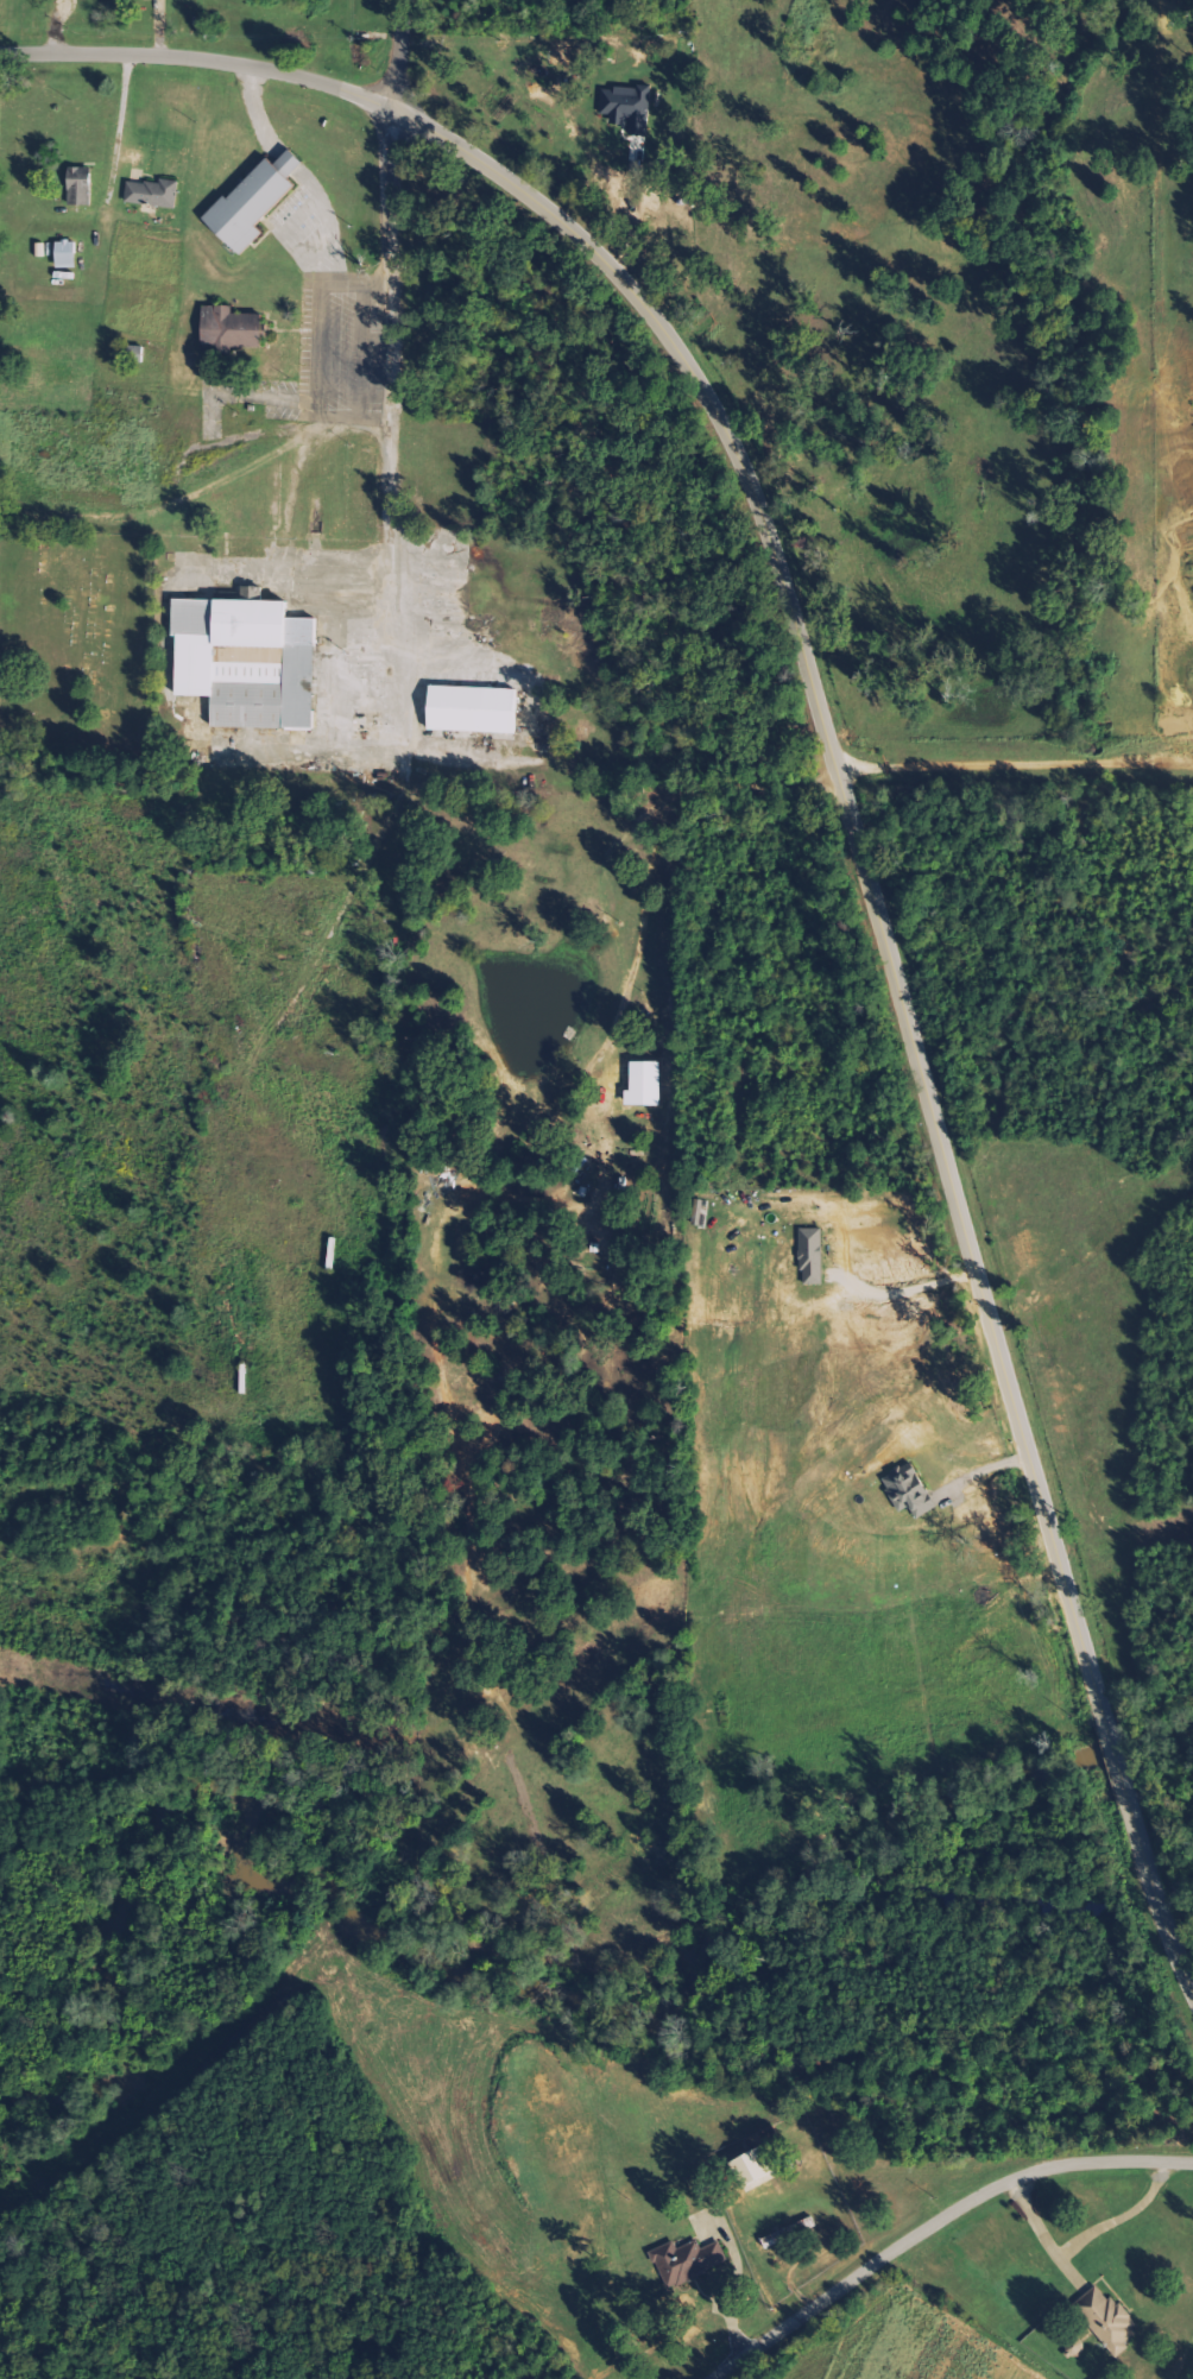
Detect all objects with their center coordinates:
road: (400, 53)
building: (629, 108)
building: (80, 187)
building: (153, 194)
building: (254, 202)
building: (67, 254)
building: (232, 329)
building: (248, 662)
building: (474, 711)
road: (847, 775)
building: (813, 1256)
road: (919, 1292)
building: (910, 1490)
building: (758, 2144)
road: (940, 2228)
building: (689, 2261)
building: (1107, 2320)

